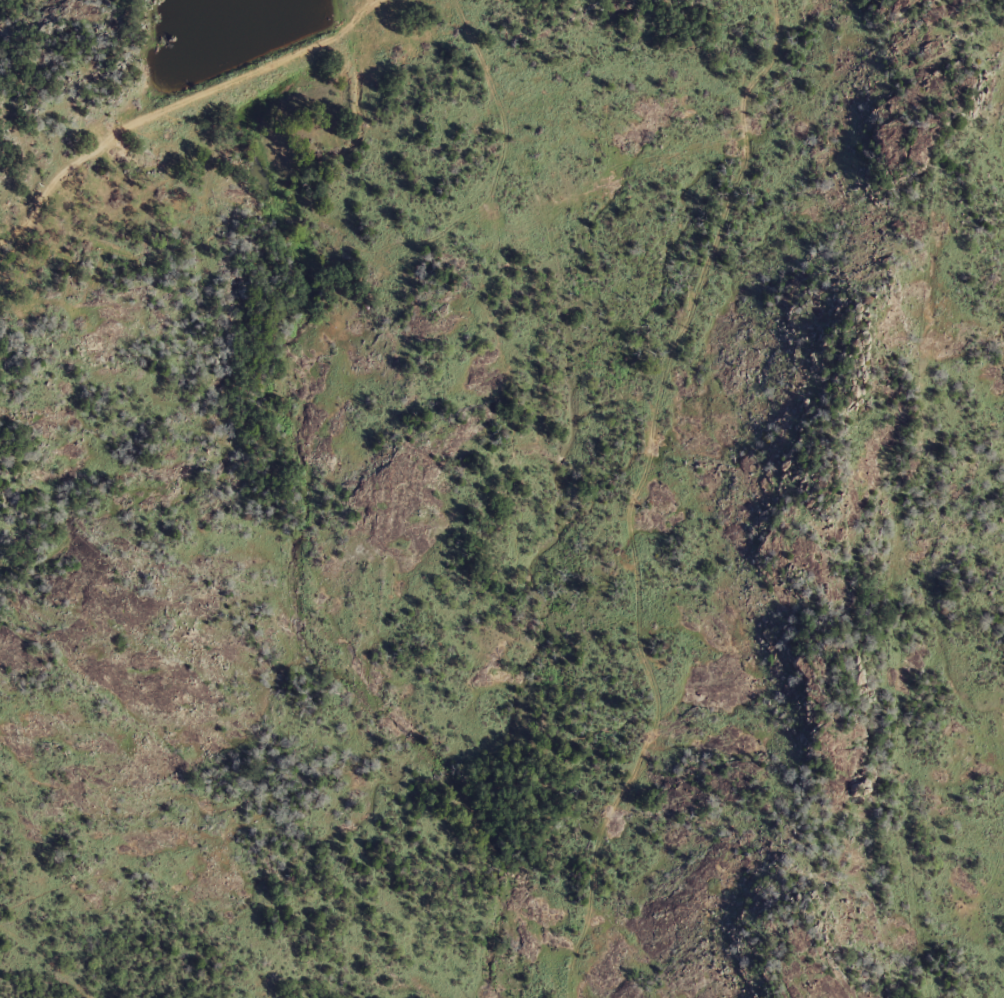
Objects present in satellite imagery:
road: (174, 105)

